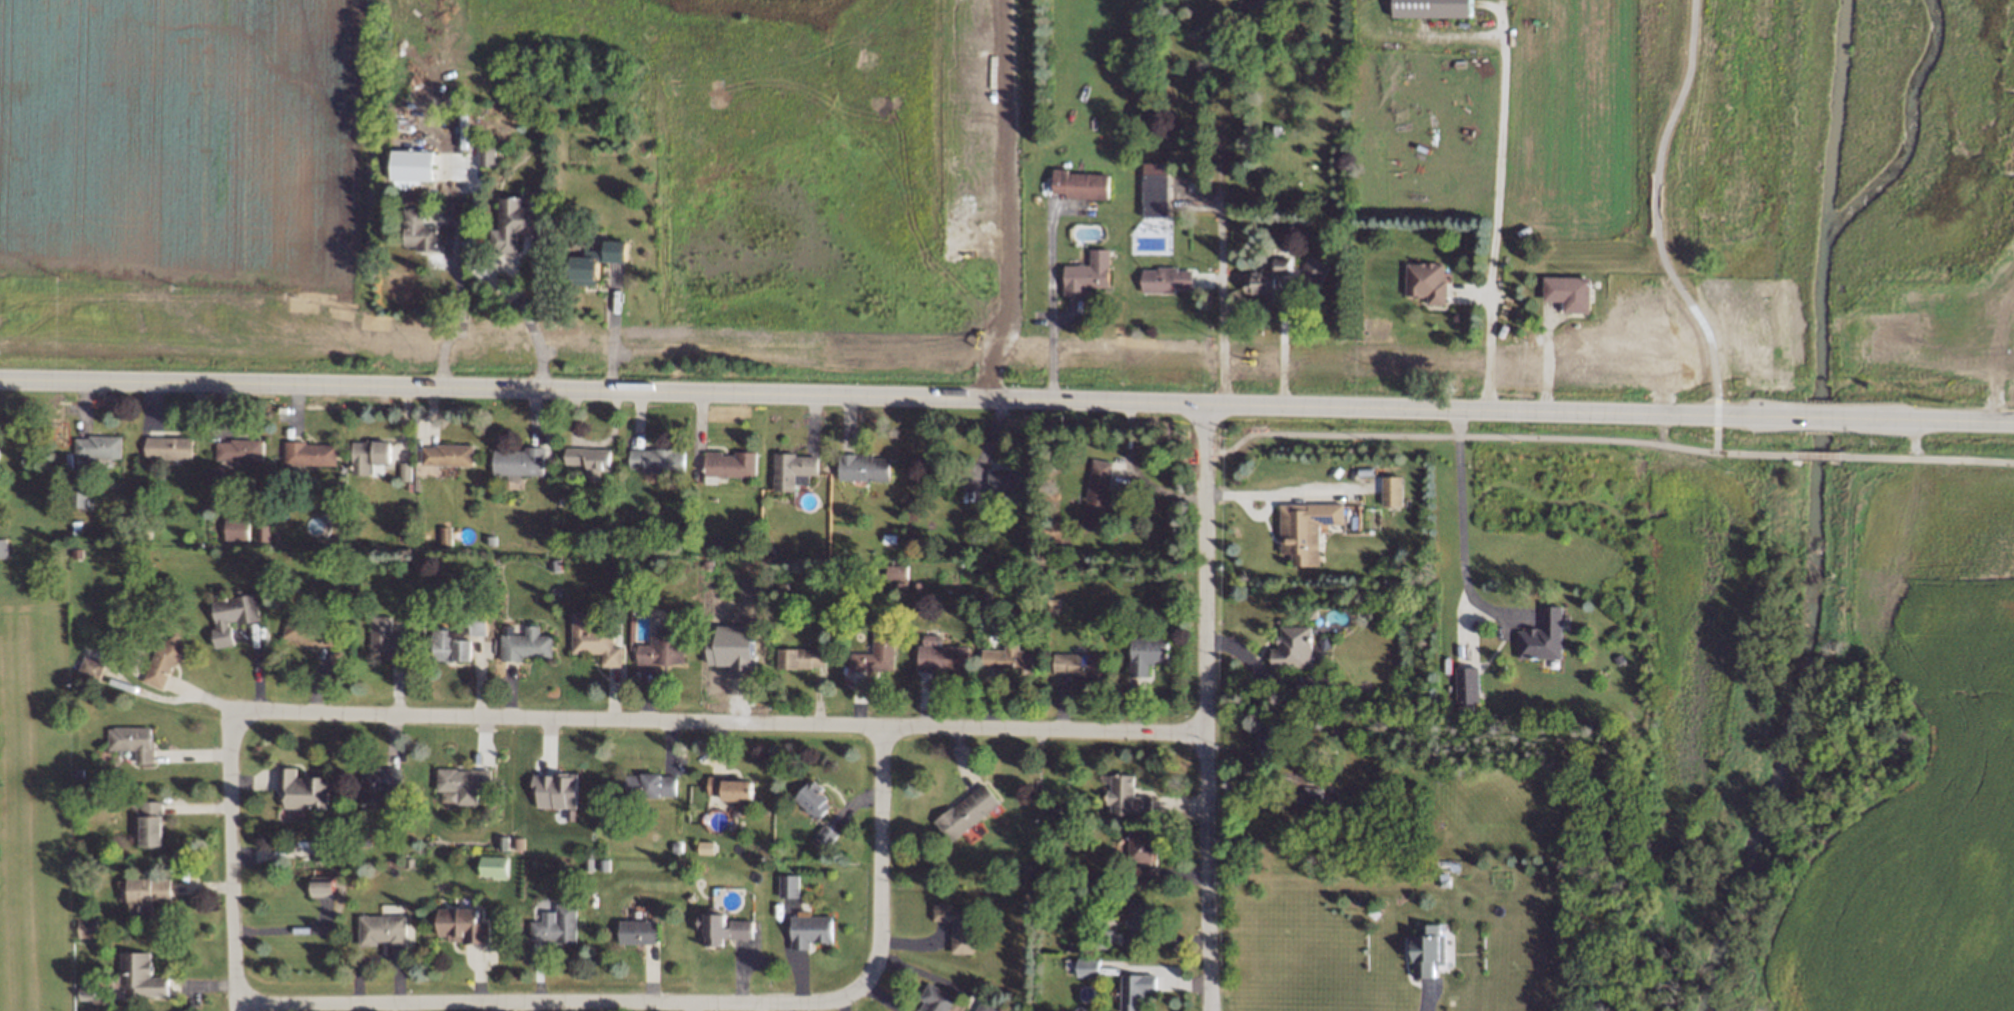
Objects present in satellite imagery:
building: (1254, 8)
building: (1429, 8)
crop: (1553, 119)
building: (485, 158)
building: (411, 165)
park: (782, 165)
park: (1835, 177)
crop: (185, 185)
building: (1078, 185)
building: (1153, 189)
road: (1005, 202)
road: (1654, 203)
road: (1220, 210)
road: (1489, 210)
building: (513, 225)
building: (418, 232)
building: (594, 261)
building: (1311, 270)
building: (1086, 275)
building: (1265, 277)
building: (1164, 279)
building: (1424, 283)
building: (1567, 294)
road: (514, 300)
road: (456, 325)
road: (610, 334)
road: (1279, 344)
road: (903, 399)
road: (1716, 411)
road: (1819, 418)
road: (1923, 420)
road: (1498, 435)
road: (1714, 438)
building: (98, 445)
building: (167, 448)
building: (236, 448)
building: (308, 452)
building: (445, 454)
road: (1815, 454)
building: (365, 455)
building: (585, 458)
road: (1925, 458)
building: (655, 460)
building: (721, 460)
building: (519, 462)
building: (785, 462)
building: (857, 464)
building: (401, 471)
building: (1008, 473)
building: (1389, 488)
building: (1094, 489)
building: (75, 492)
road: (1284, 492)
road: (1254, 498)
building: (0, 518)
building: (231, 526)
building: (73, 528)
building: (1303, 528)
road: (1454, 528)
building: (259, 530)
building: (438, 533)
building: (885, 538)
building: (486, 539)
building: (3, 545)
building: (1057, 548)
building: (610, 563)
building: (893, 571)
building: (897, 585)
building: (912, 586)
building: (1048, 602)
building: (227, 615)
building: (474, 623)
building: (305, 629)
building: (1535, 635)
building: (589, 637)
building: (928, 637)
building: (384, 638)
building: (658, 641)
building: (520, 642)
building: (1285, 644)
building: (446, 647)
building: (1143, 648)
building: (731, 649)
building: (869, 649)
building: (795, 650)
building: (1005, 654)
building: (939, 657)
building: (159, 659)
building: (1072, 659)
building: (81, 666)
building: (1315, 680)
building: (1462, 686)
road: (1208, 708)
road: (717, 725)
building: (1350, 731)
building: (125, 737)
building: (1267, 738)
building: (457, 772)
building: (73, 774)
building: (372, 780)
building: (722, 781)
building: (643, 788)
building: (1126, 790)
building: (1308, 790)
building: (296, 792)
building: (805, 795)
building: (550, 801)
building: (1052, 806)
building: (962, 807)
building: (142, 828)
building: (360, 833)
building: (820, 838)
building: (500, 840)
building: (515, 840)
building: (1139, 841)
building: (703, 844)
building: (314, 845)
building: (672, 846)
building: (405, 860)
road: (877, 860)
building: (490, 863)
building: (585, 864)
building: (600, 866)
road: (236, 867)
building: (1022, 868)
building: (1460, 869)
building: (1136, 872)
building: (1049, 875)
building: (74, 878)
building: (1440, 878)
building: (314, 887)
building: (784, 890)
building: (141, 897)
building: (722, 919)
building: (1137, 919)
building: (461, 921)
building: (81, 922)
building: (810, 923)
building: (550, 925)
building: (954, 928)
road: (282, 930)
building: (379, 933)
building: (634, 934)
building: (1098, 939)
building: (1067, 946)
building: (1422, 948)
building: (1063, 964)
building: (1083, 969)
building: (133, 971)
building: (80, 990)
building: (1132, 993)
road: (554, 1001)
building: (932, 1003)
building: (981, 1008)

